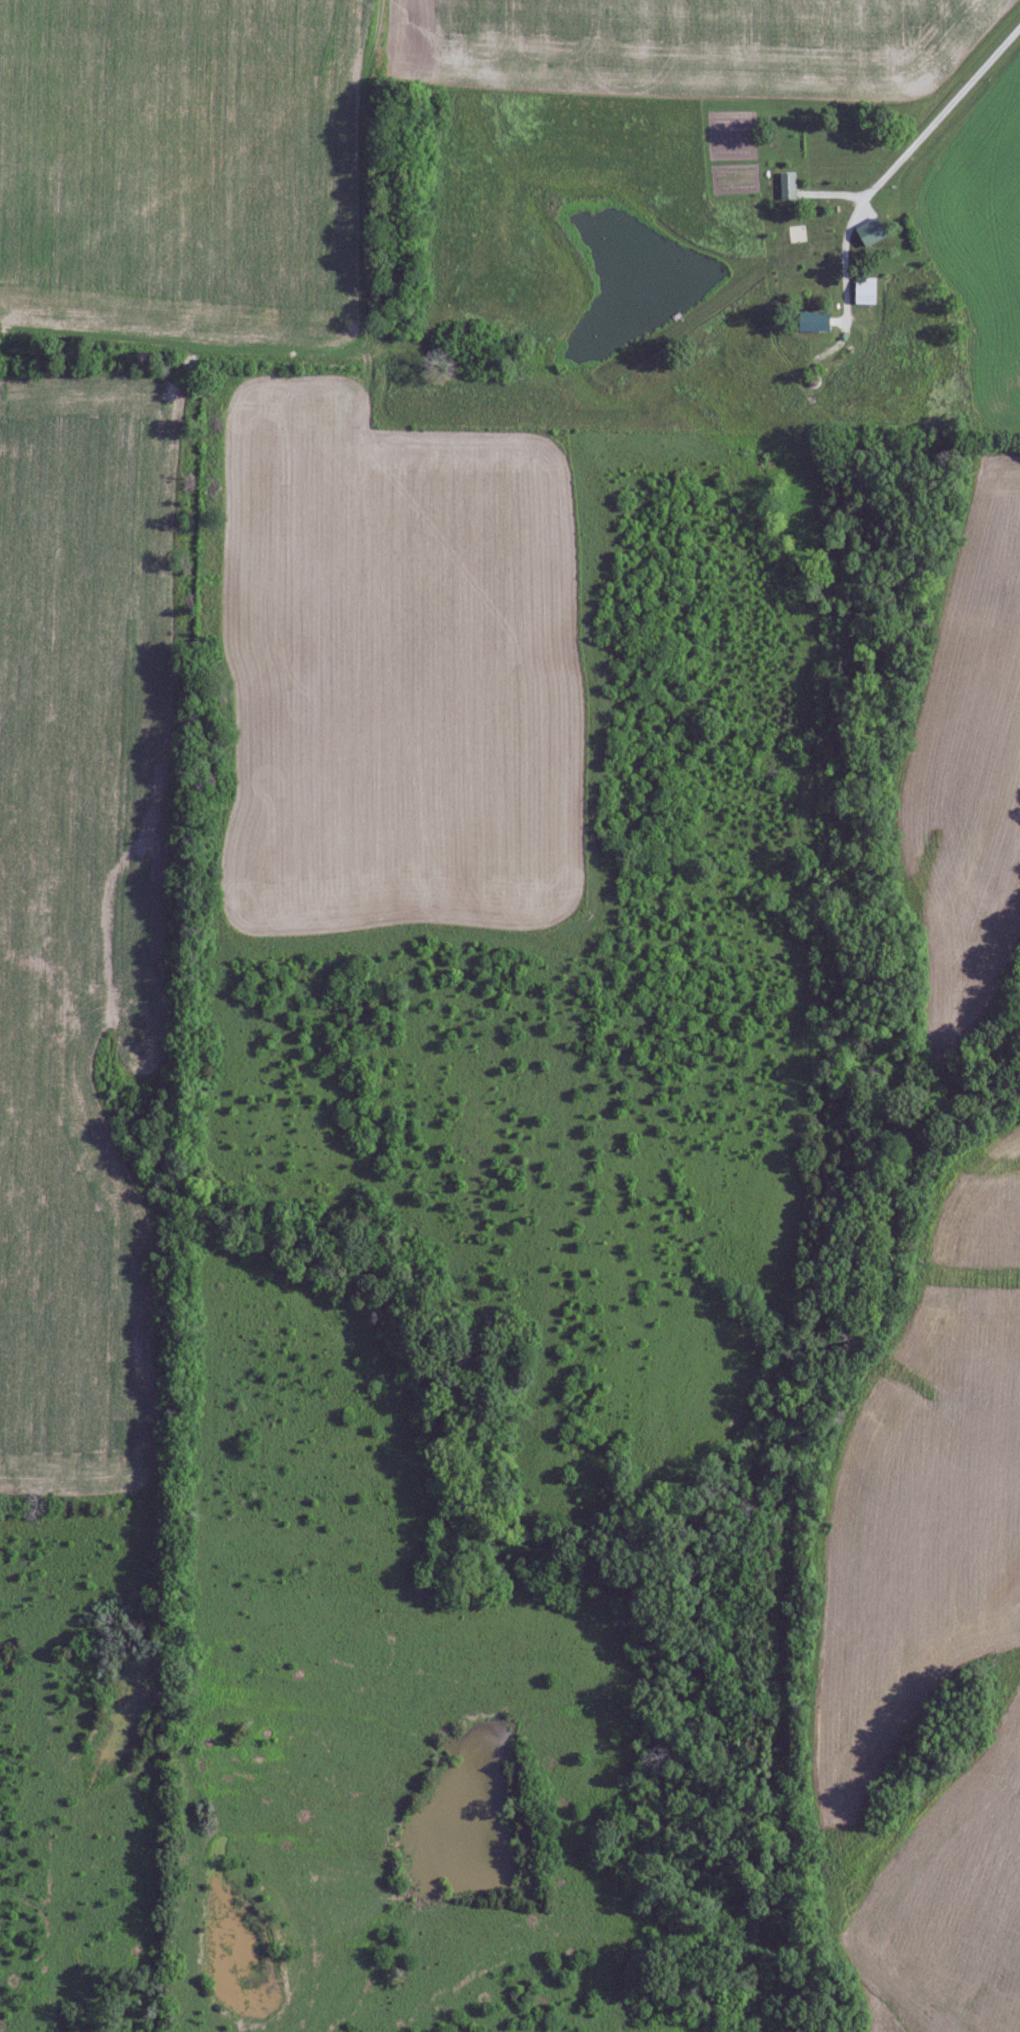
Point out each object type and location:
road: (900, 156)
building: (865, 289)

